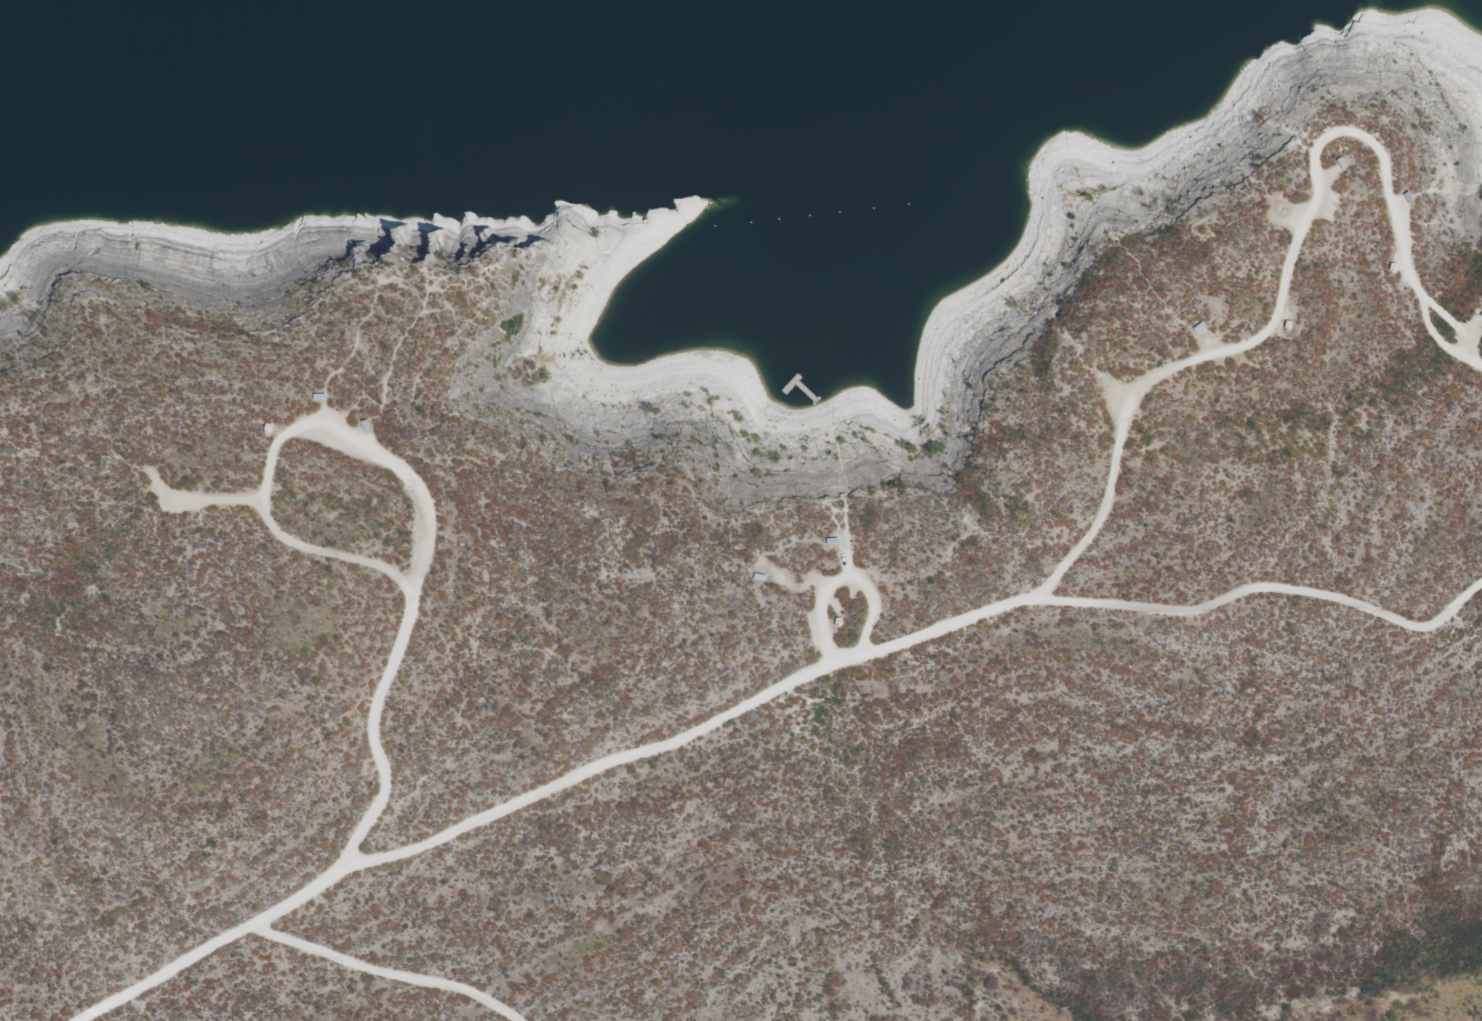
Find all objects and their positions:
road: (1286, 266)
road: (399, 467)
road: (844, 579)
road: (1264, 587)
road: (687, 737)
road: (339, 869)
road: (390, 971)

